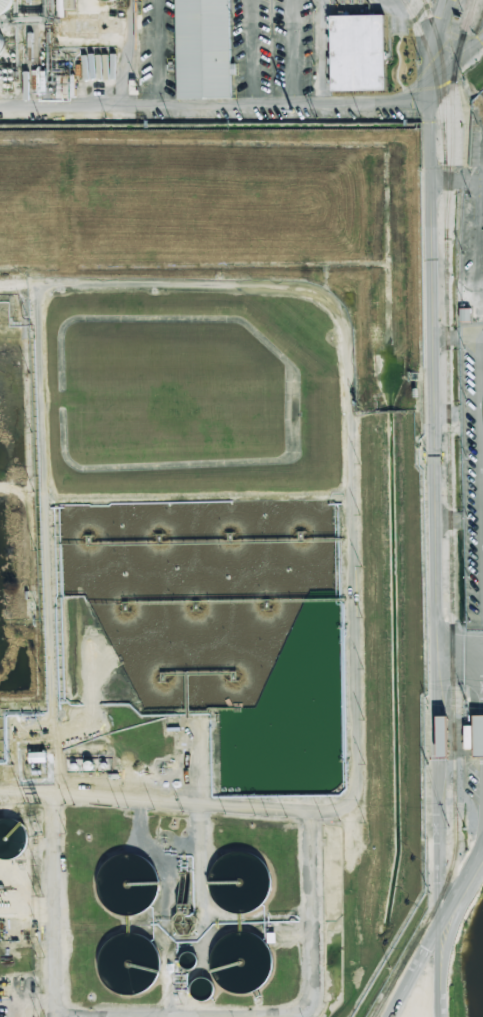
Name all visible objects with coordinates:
building: (114, 0)
railway: (423, 0)
road: (393, 5)
building: (5, 7)
building: (1, 44)
building: (203, 49)
road: (31, 52)
road: (152, 52)
road: (251, 52)
road: (292, 52)
road: (321, 52)
building: (358, 53)
railway: (434, 78)
road: (215, 105)
railway: (452, 117)
road: (436, 507)
railway: (449, 517)
building: (474, 735)
building: (13, 838)
road: (417, 972)

